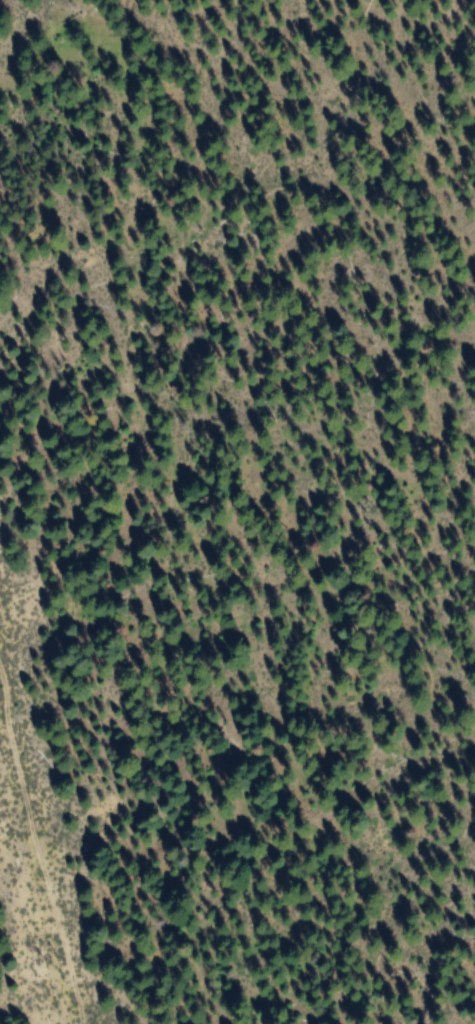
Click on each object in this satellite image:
power tower: (45, 954)

